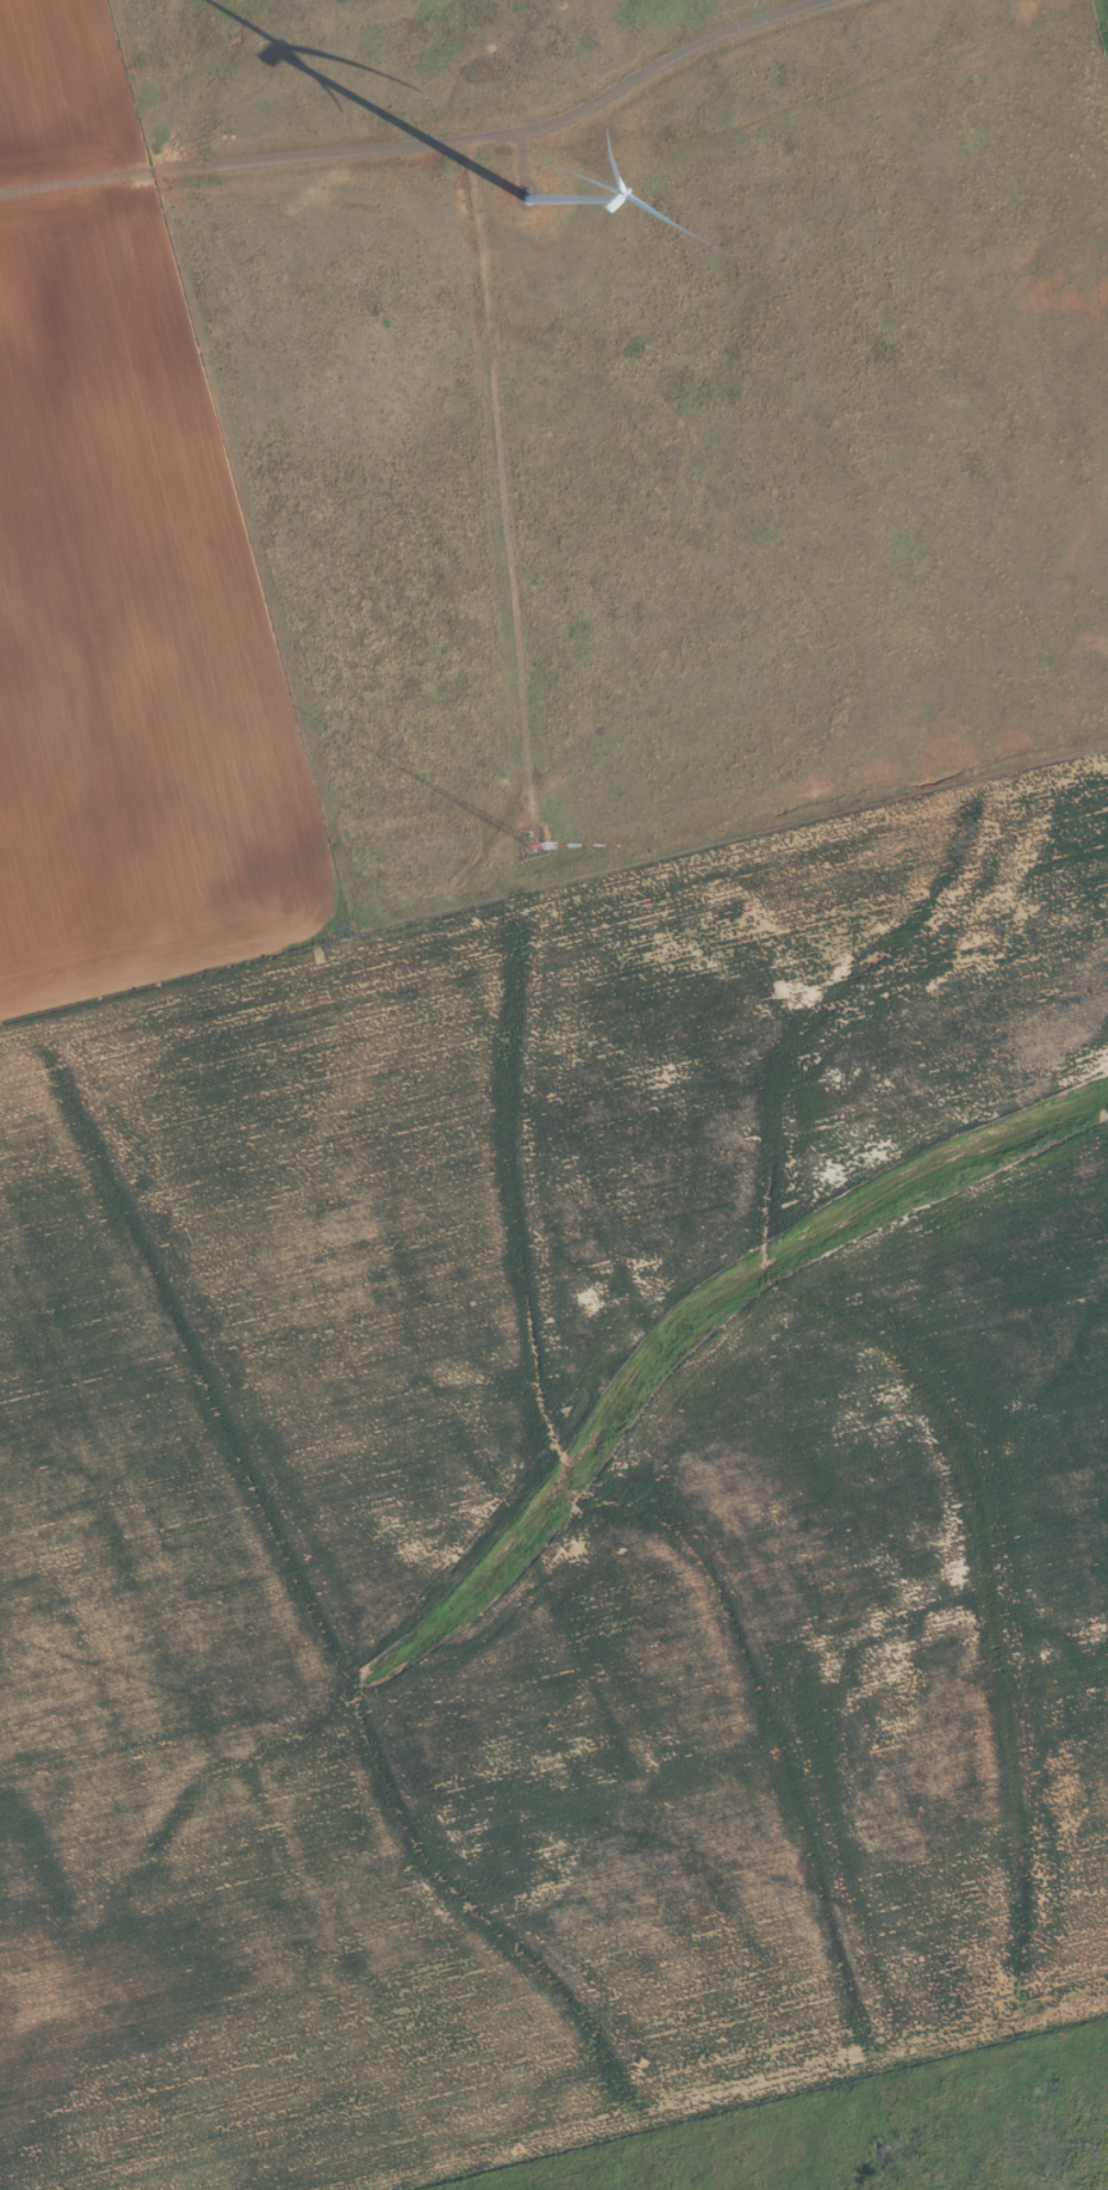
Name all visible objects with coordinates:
wind turbine: (524, 200)

